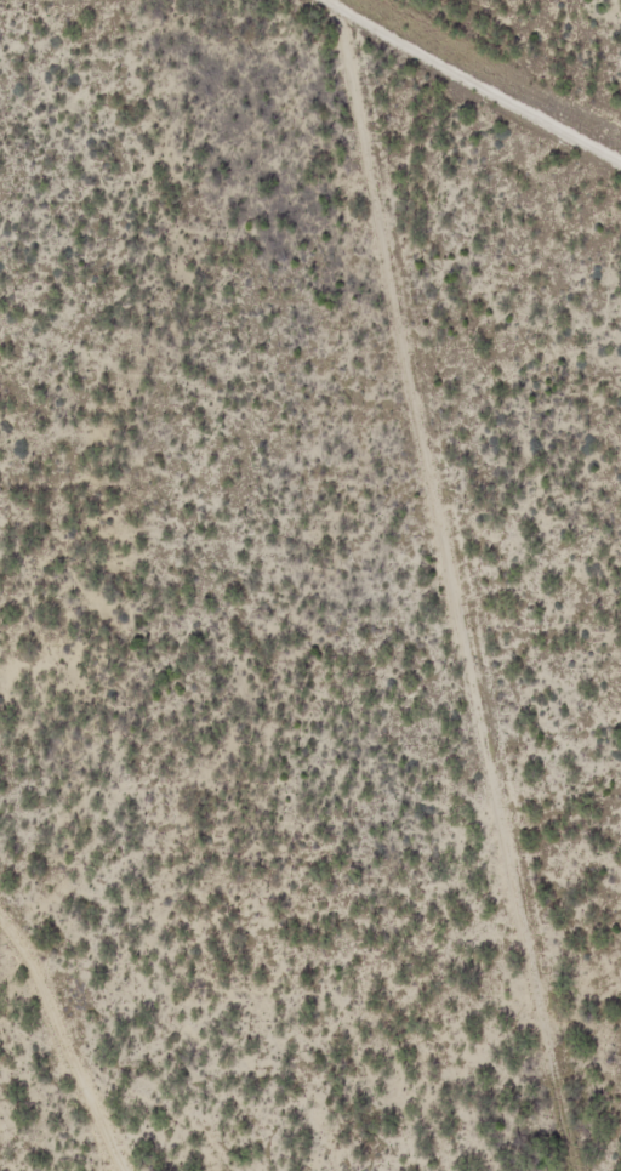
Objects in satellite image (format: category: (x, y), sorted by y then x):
road: (468, 83)

